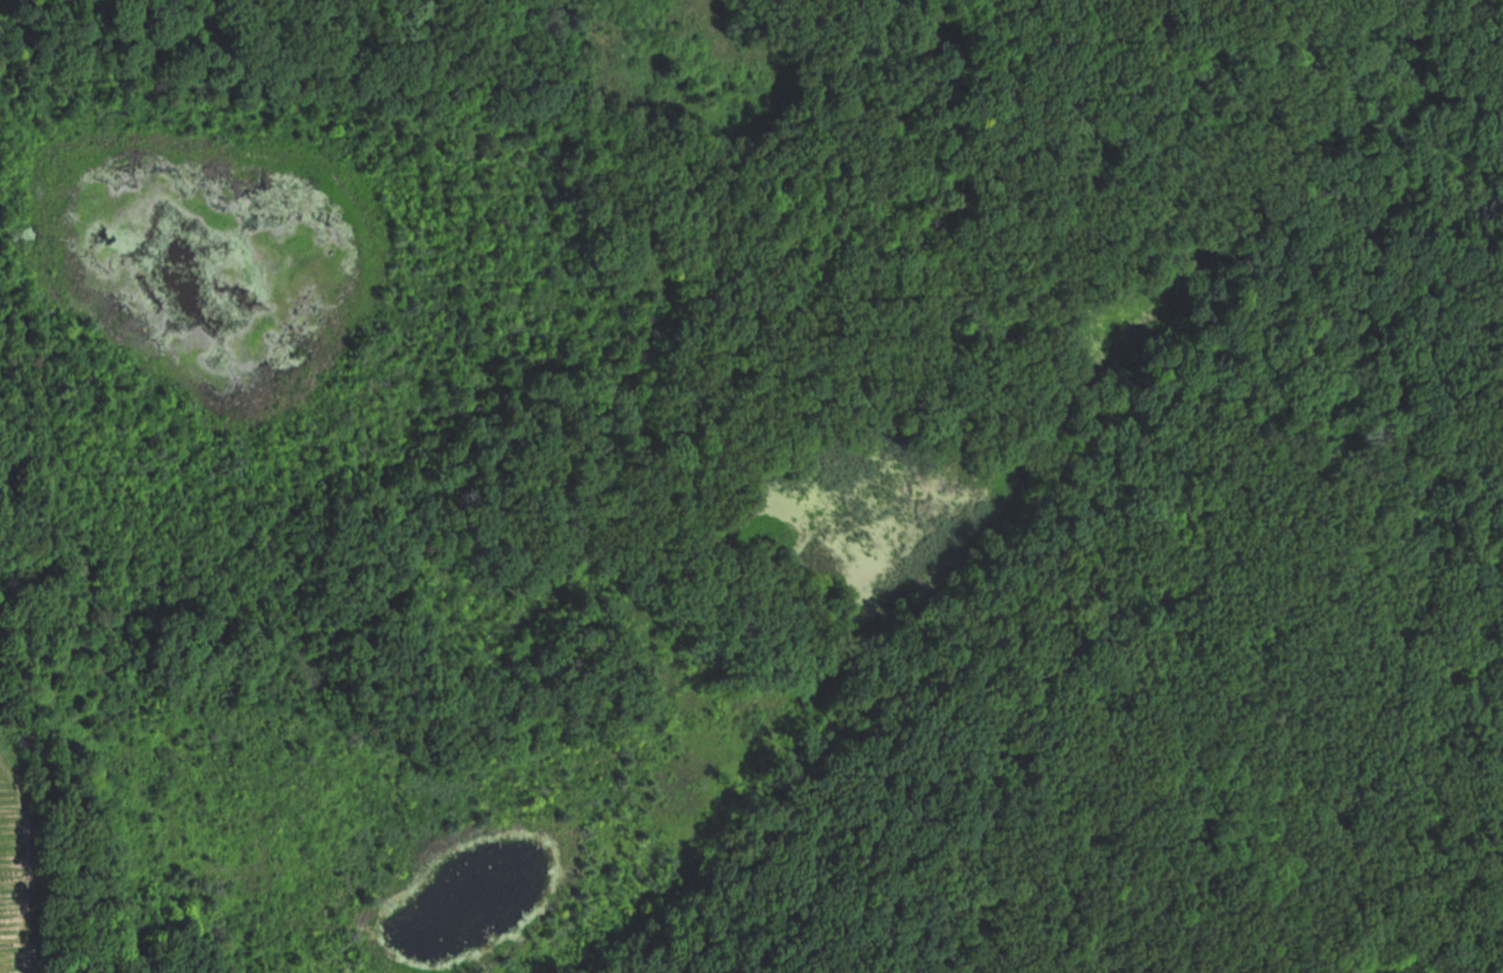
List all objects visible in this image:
park: (778, 484)
road: (1395, 766)
crop: (17, 872)

